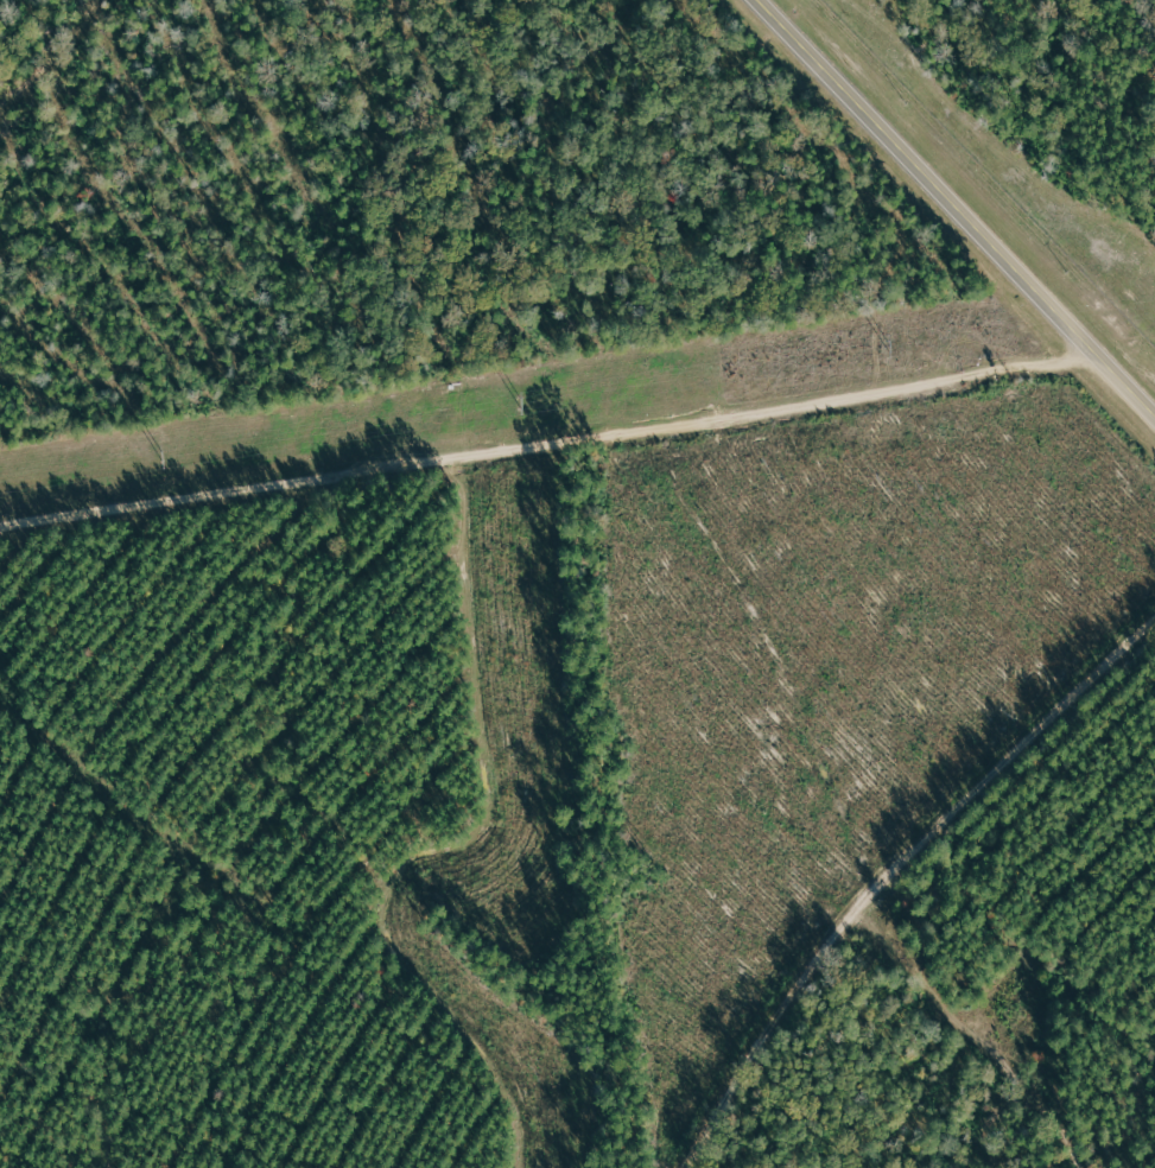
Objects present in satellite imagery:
road: (957, 208)
power tower: (886, 348)
power tower: (519, 405)
road: (548, 434)
power tower: (163, 458)

